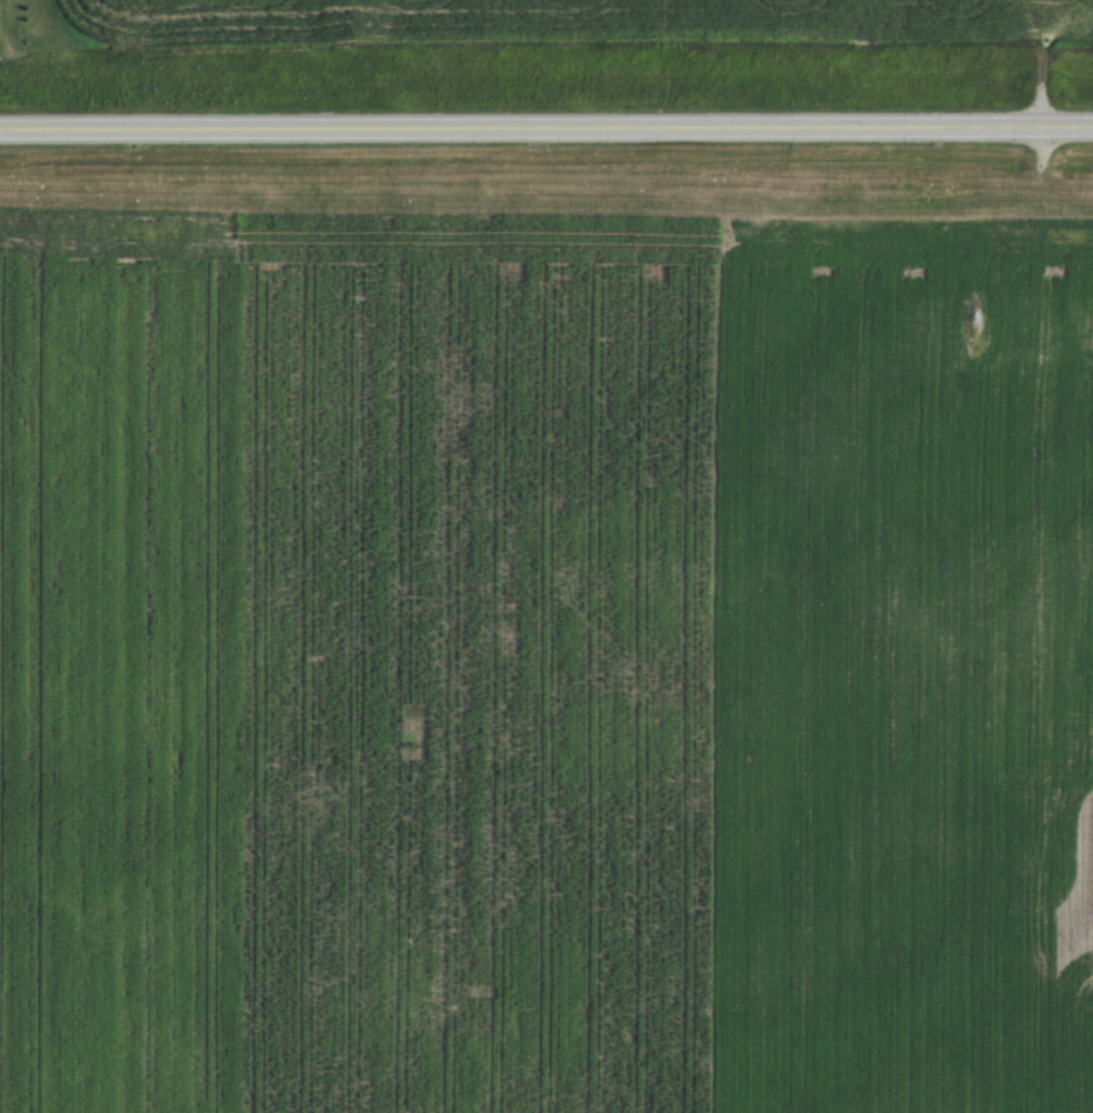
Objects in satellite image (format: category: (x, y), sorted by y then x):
park: (9, 25)
road: (546, 131)

